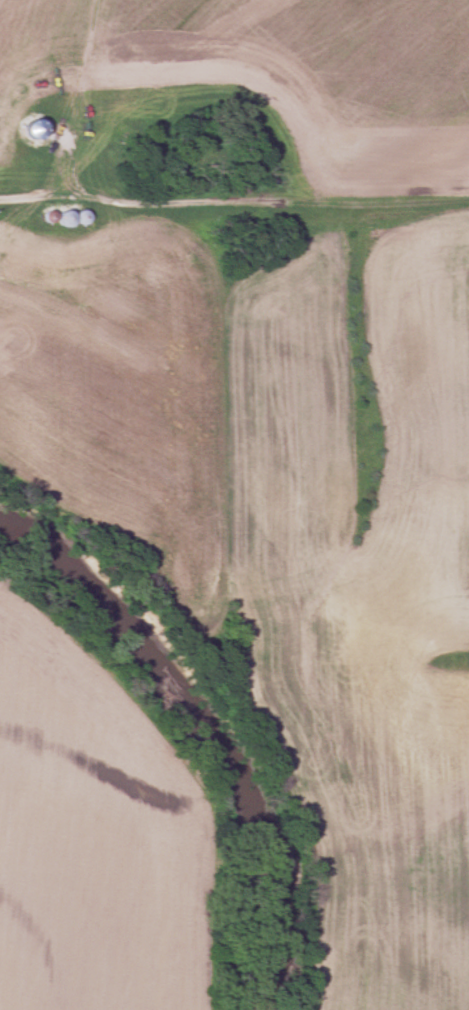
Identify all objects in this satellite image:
building: (77, 218)

